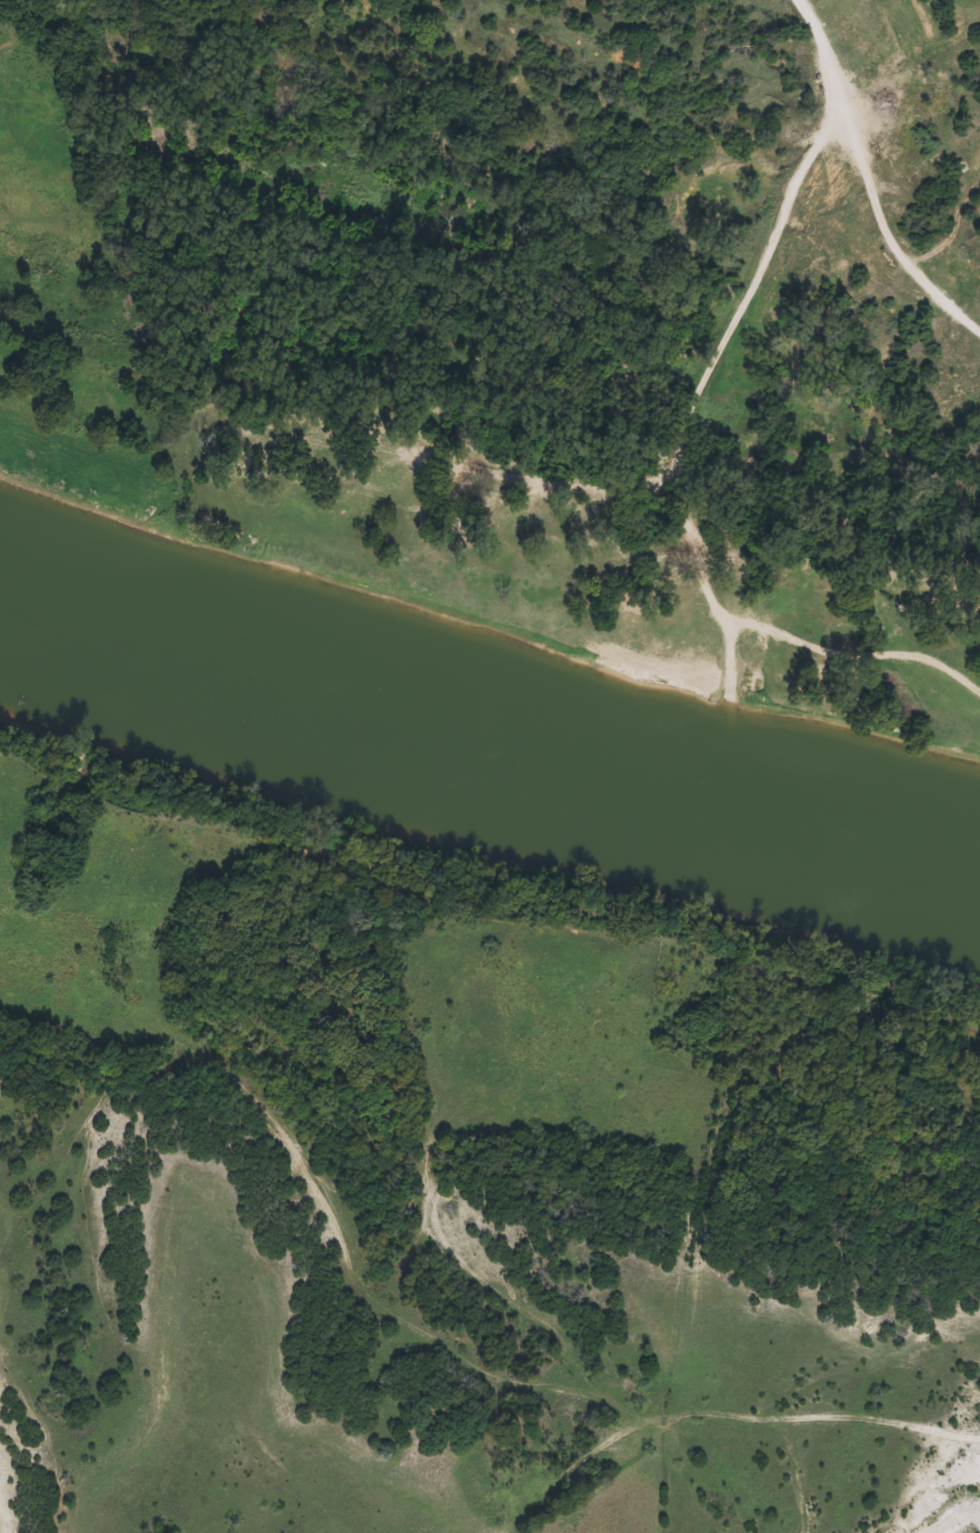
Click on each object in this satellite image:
road: (814, 33)
road: (828, 83)
road: (884, 226)
road: (675, 480)
river: (484, 746)

